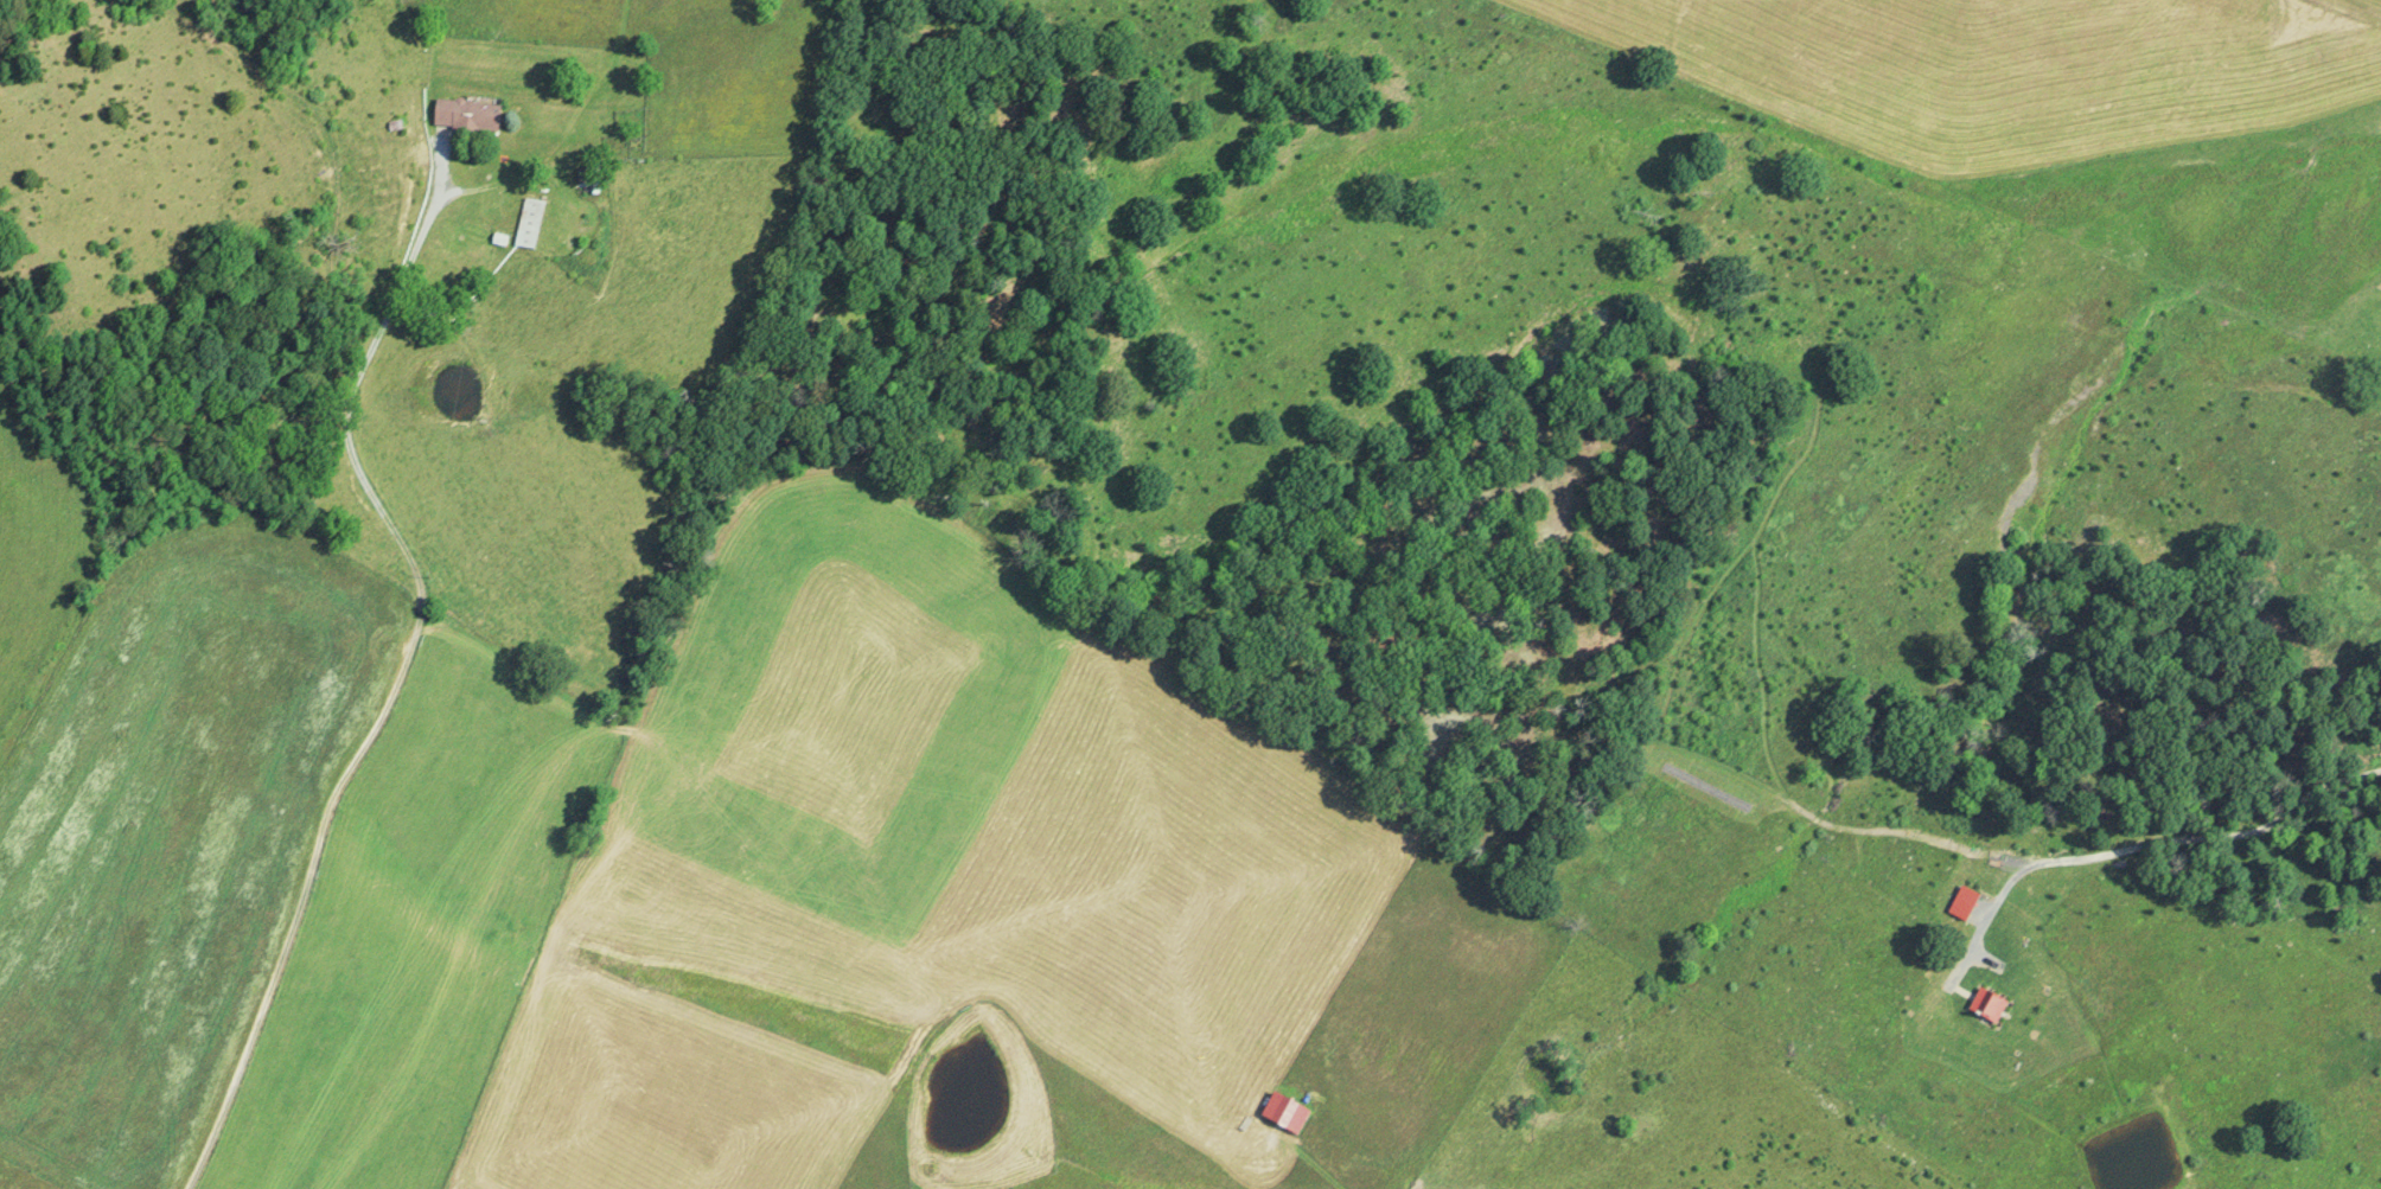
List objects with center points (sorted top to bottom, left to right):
building: (464, 114)
building: (528, 222)
road: (392, 683)
road: (2143, 840)
building: (1961, 902)
building: (1985, 1005)
building: (1283, 1113)

